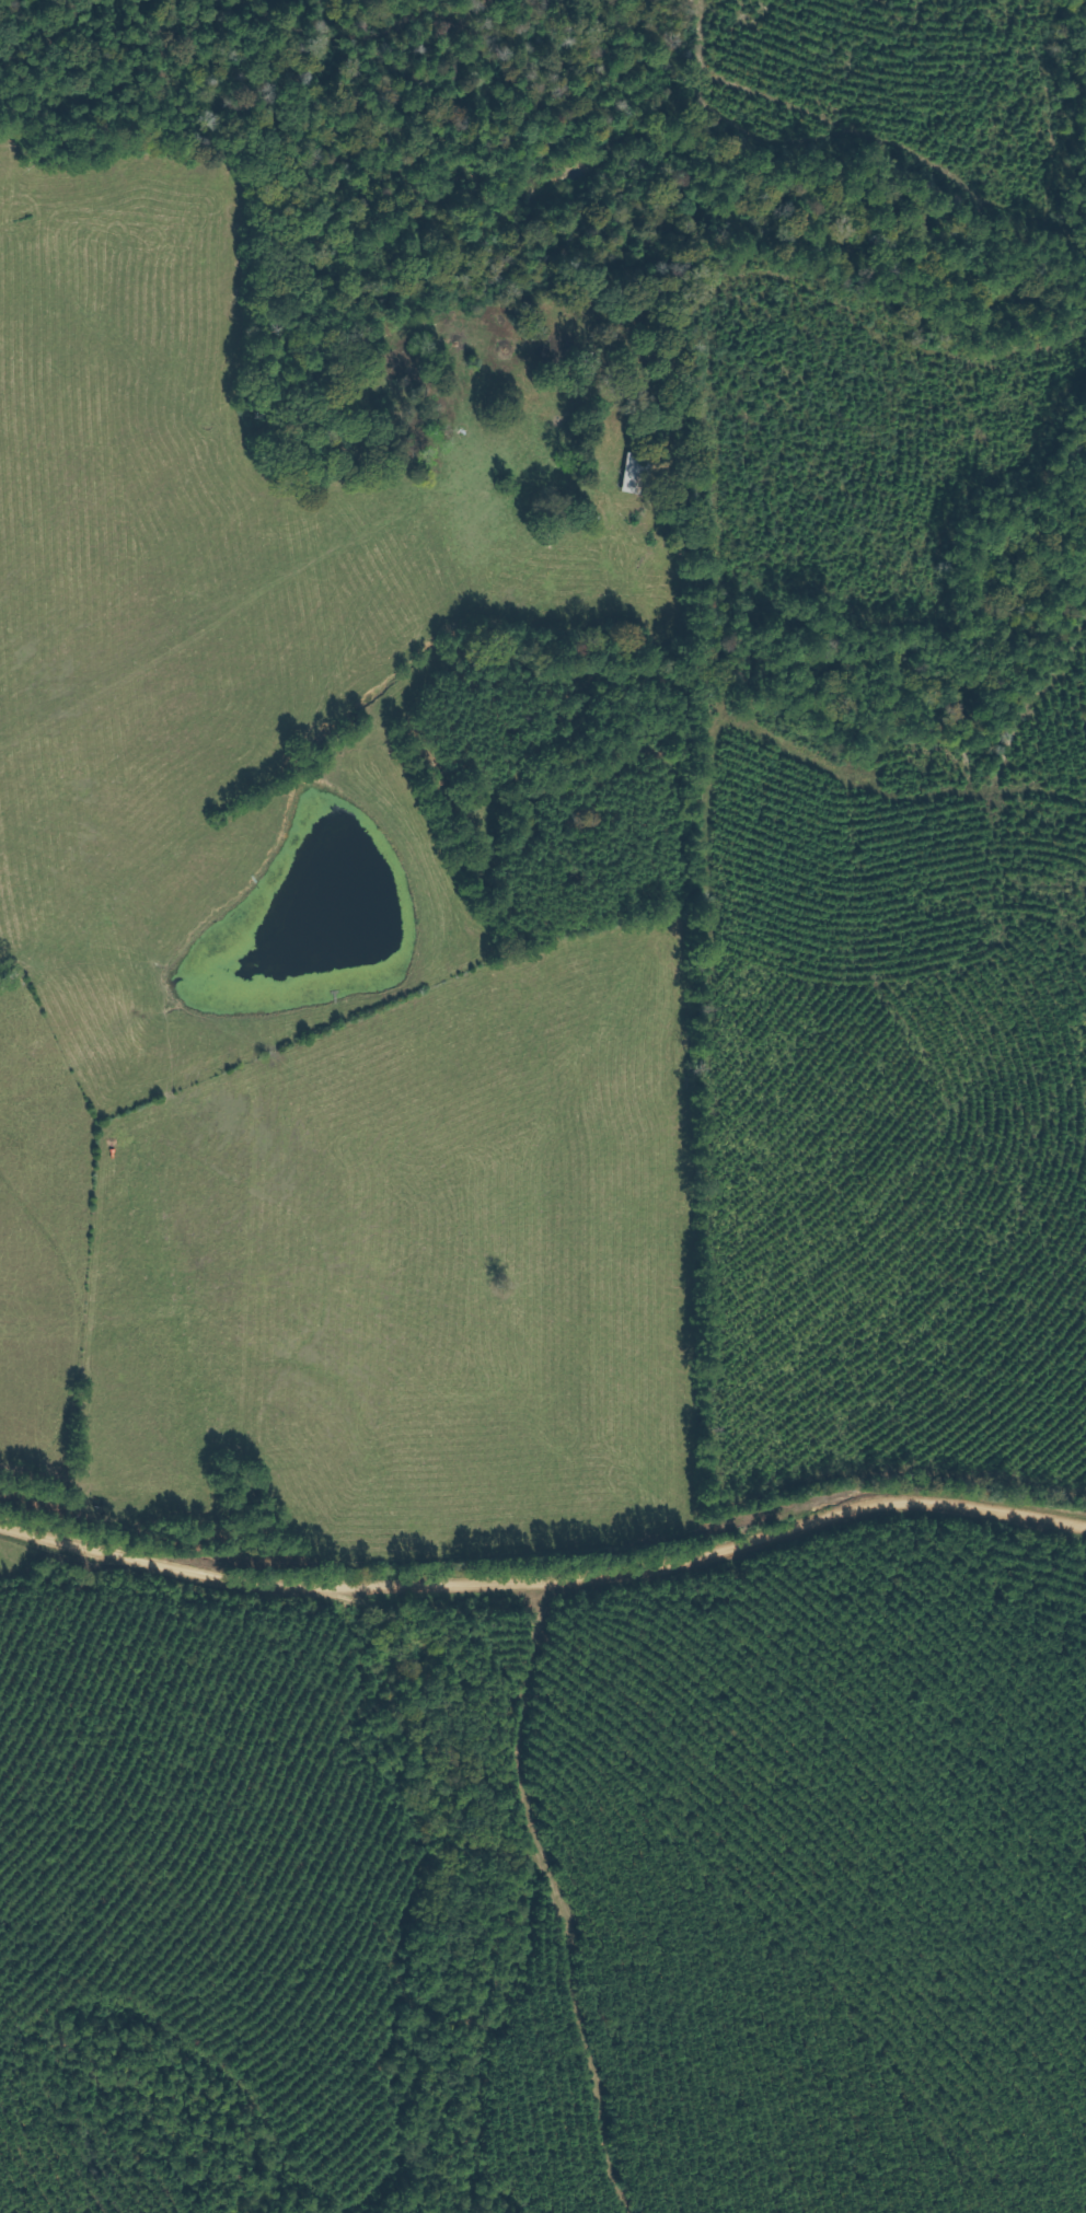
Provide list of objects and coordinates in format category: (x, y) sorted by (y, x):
building: (633, 473)
road: (544, 1578)

